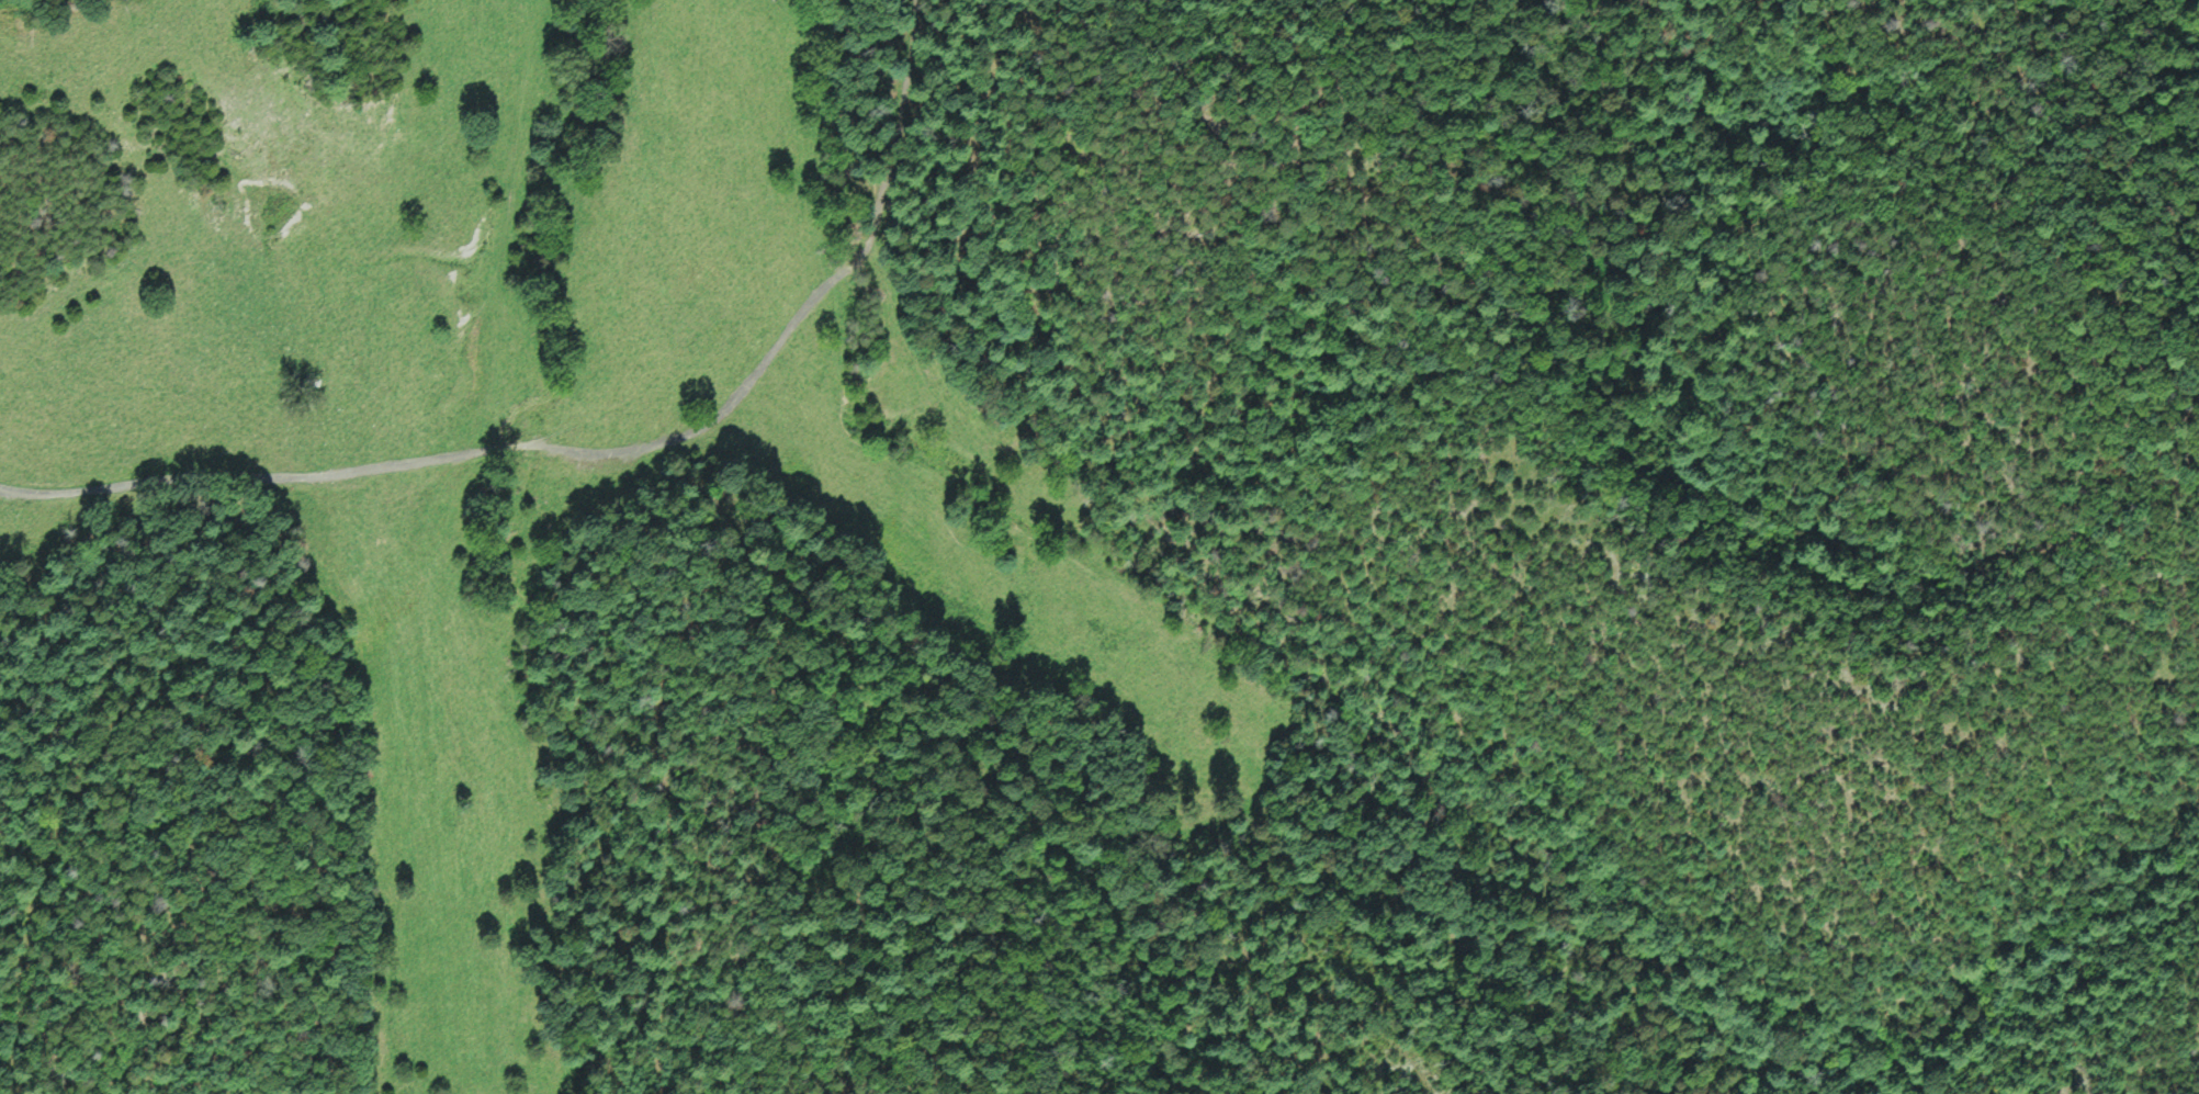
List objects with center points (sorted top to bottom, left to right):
road: (597, 448)

